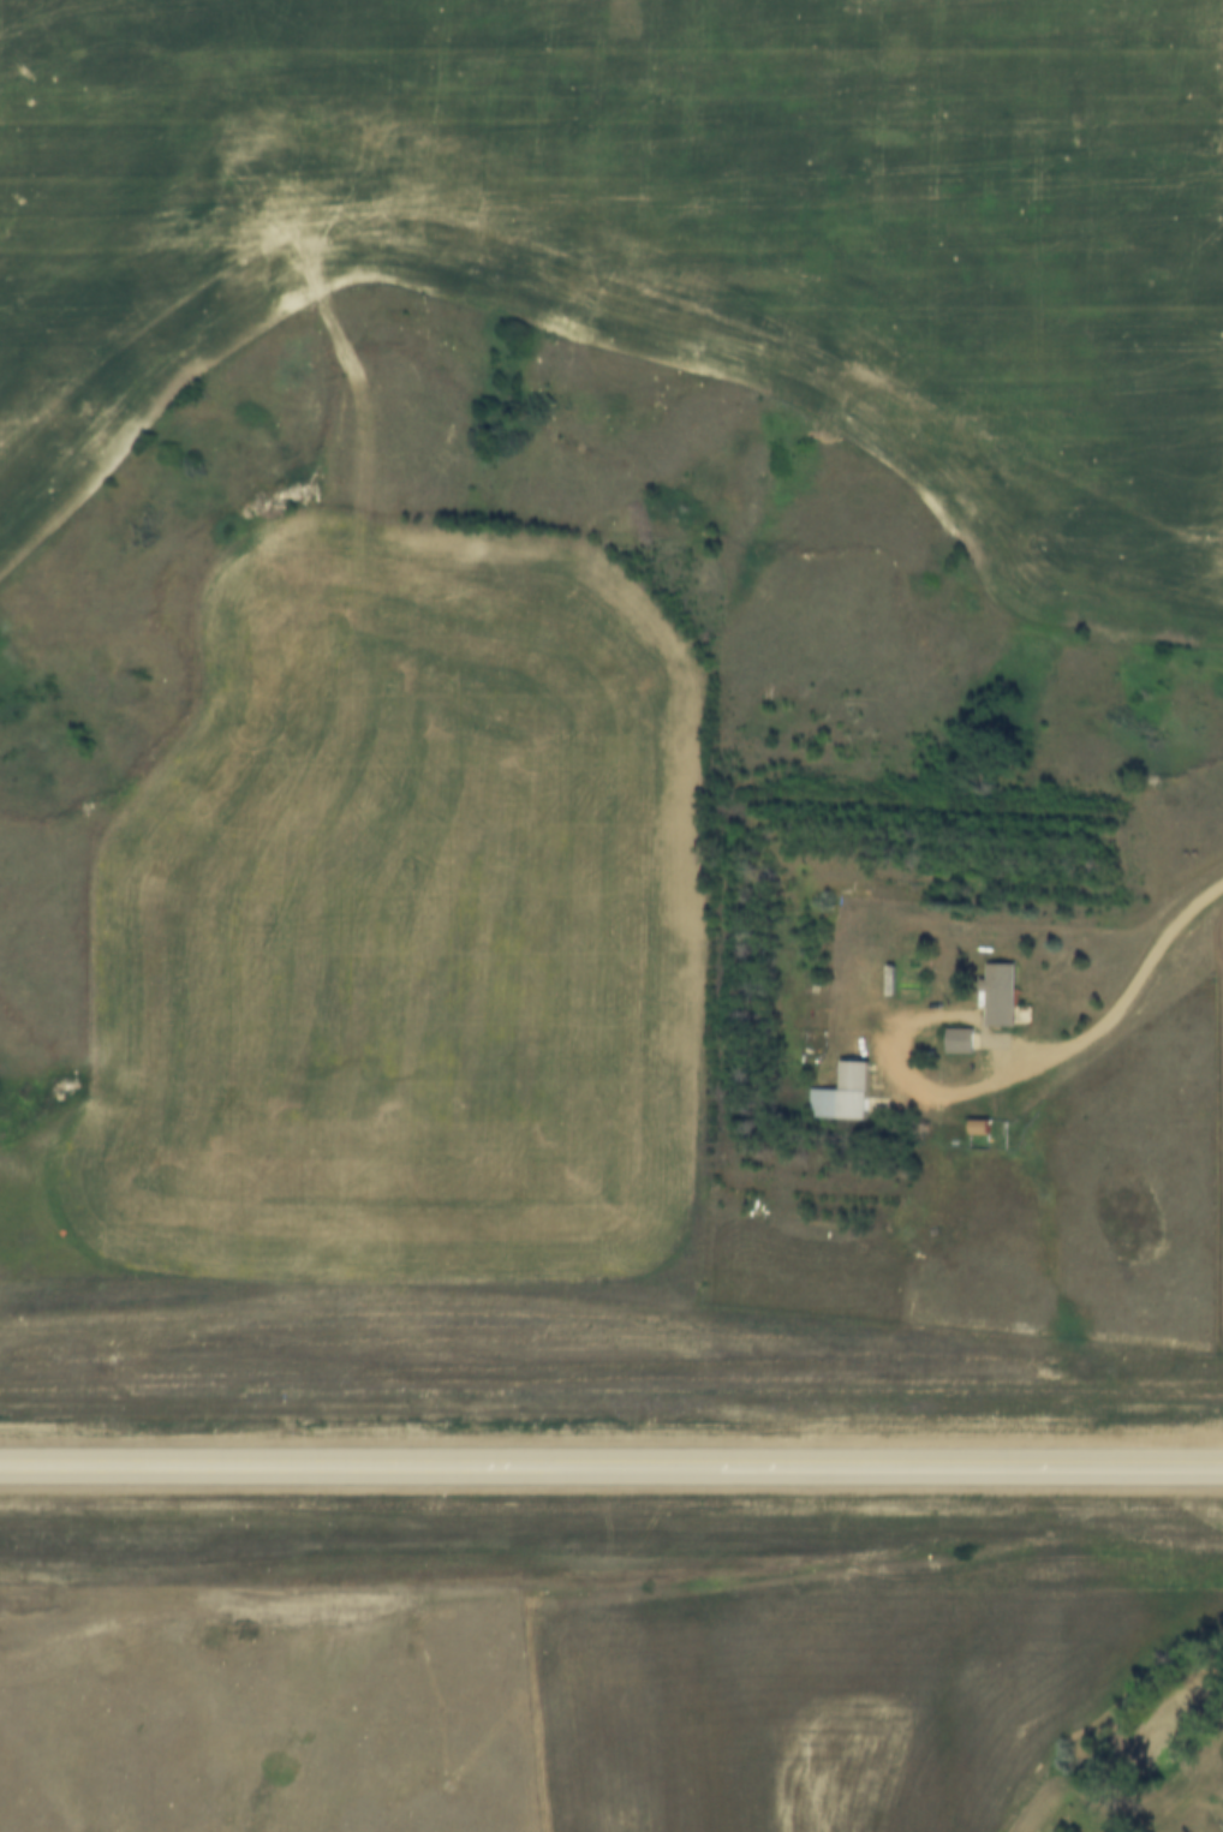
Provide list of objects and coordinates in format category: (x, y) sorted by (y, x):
road: (1137, 986)
building: (1006, 996)
building: (962, 1040)
road: (901, 1056)
building: (846, 1094)
road: (244, 1469)
road: (599, 1470)
road: (967, 1470)

